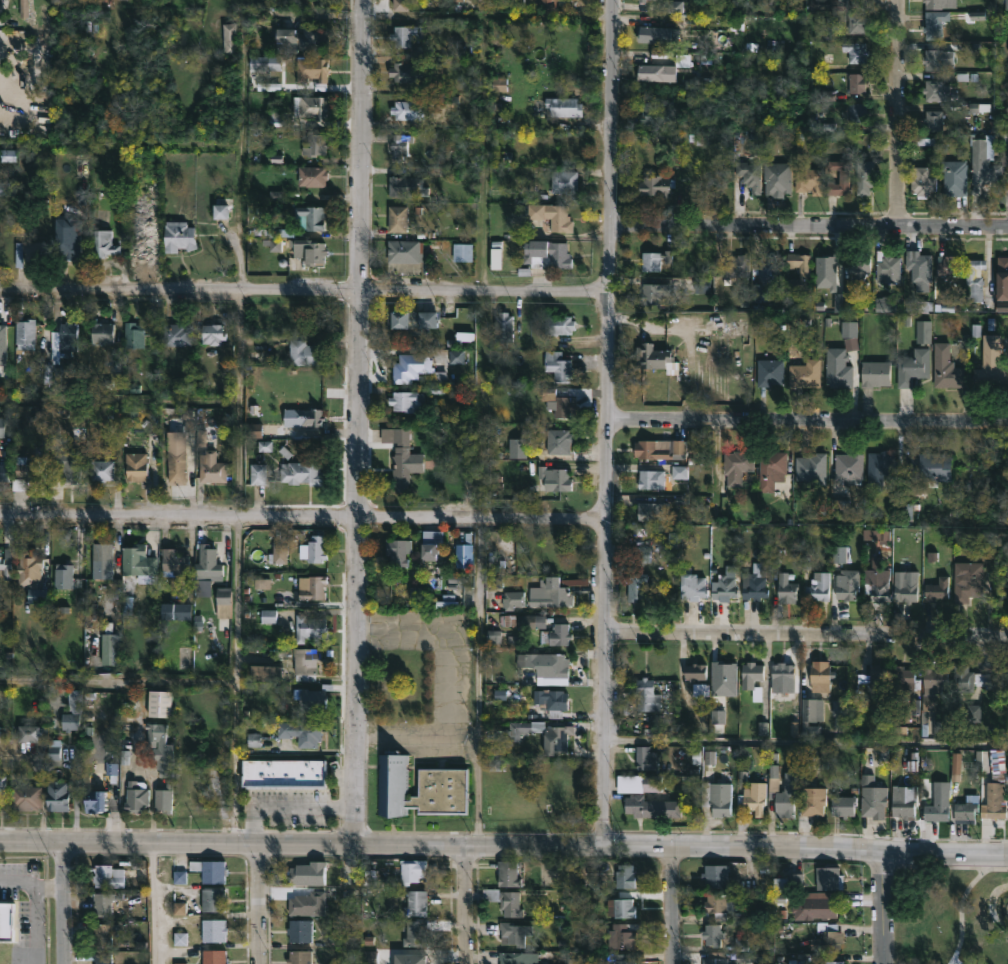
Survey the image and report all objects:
building: (641, 1)
building: (935, 3)
building: (549, 4)
building: (839, 4)
building: (402, 6)
building: (858, 22)
building: (934, 24)
building: (664, 31)
building: (408, 34)
building: (231, 38)
building: (299, 38)
building: (855, 51)
building: (935, 58)
building: (267, 62)
building: (314, 69)
building: (406, 71)
building: (655, 72)
building: (857, 82)
building: (501, 86)
building: (933, 90)
road: (483, 93)
building: (312, 106)
building: (564, 106)
building: (410, 108)
road: (897, 112)
building: (656, 114)
building: (858, 115)
building: (933, 120)
building: (316, 143)
building: (400, 147)
road: (122, 150)
building: (983, 161)
building: (749, 174)
building: (866, 175)
building: (314, 176)
building: (839, 177)
building: (952, 177)
building: (777, 178)
building: (807, 180)
building: (565, 181)
building: (922, 181)
building: (655, 185)
building: (405, 186)
building: (223, 206)
building: (554, 215)
building: (311, 217)
building: (398, 218)
road: (809, 224)
building: (68, 236)
building: (175, 236)
building: (105, 244)
building: (143, 246)
building: (311, 251)
building: (406, 251)
building: (464, 251)
building: (544, 253)
building: (20, 256)
building: (655, 260)
building: (736, 265)
building: (947, 265)
building: (887, 267)
building: (804, 268)
building: (919, 268)
building: (859, 269)
building: (766, 275)
building: (1002, 277)
building: (976, 281)
road: (303, 292)
building: (653, 293)
building: (413, 319)
building: (560, 325)
building: (505, 327)
building: (3, 331)
building: (923, 331)
building: (103, 332)
building: (29, 334)
building: (175, 334)
building: (215, 334)
building: (135, 335)
building: (65, 341)
building: (306, 353)
building: (992, 357)
building: (655, 358)
building: (560, 366)
building: (412, 367)
building: (912, 367)
building: (945, 368)
building: (836, 370)
building: (769, 373)
building: (804, 373)
building: (875, 374)
building: (408, 401)
building: (557, 402)
road: (121, 413)
building: (311, 417)
road: (361, 421)
road: (608, 422)
road: (808, 423)
building: (2, 426)
building: (205, 433)
building: (560, 443)
building: (519, 448)
building: (680, 448)
road: (243, 451)
building: (649, 451)
building: (401, 456)
building: (72, 465)
building: (137, 466)
building: (176, 466)
building: (738, 466)
building: (849, 466)
building: (213, 468)
building: (930, 468)
building: (811, 469)
building: (880, 469)
building: (103, 470)
building: (771, 470)
building: (4, 472)
building: (303, 473)
building: (681, 473)
building: (29, 475)
building: (260, 475)
building: (555, 478)
building: (651, 480)
building: (651, 511)
road: (303, 518)
building: (434, 545)
building: (316, 549)
building: (399, 551)
building: (281, 552)
building: (465, 553)
building: (642, 557)
building: (139, 560)
building: (103, 561)
building: (173, 561)
building: (5, 562)
building: (209, 566)
building: (65, 574)
building: (32, 576)
building: (965, 581)
building: (755, 582)
building: (878, 584)
building: (634, 585)
building: (691, 585)
building: (312, 586)
building: (723, 587)
building: (818, 587)
building: (937, 587)
building: (846, 588)
building: (903, 590)
building: (787, 591)
building: (552, 594)
building: (513, 599)
building: (225, 601)
building: (174, 609)
building: (270, 618)
building: (533, 621)
building: (311, 626)
building: (558, 635)
road: (807, 635)
building: (111, 650)
building: (183, 657)
building: (307, 662)
building: (548, 665)
building: (268, 671)
building: (694, 671)
building: (783, 672)
building: (820, 675)
building: (968, 677)
building: (752, 678)
building: (934, 678)
road: (480, 682)
building: (902, 682)
building: (871, 683)
road: (121, 687)
building: (646, 694)
building: (316, 697)
building: (553, 701)
building: (162, 705)
building: (809, 708)
building: (928, 709)
building: (74, 712)
building: (518, 730)
building: (303, 731)
building: (36, 732)
building: (157, 733)
building: (1, 734)
building: (559, 740)
road: (803, 742)
building: (644, 757)
building: (167, 761)
building: (286, 775)
building: (652, 783)
building: (3, 785)
building: (418, 786)
building: (102, 791)
building: (780, 794)
building: (995, 794)
building: (59, 796)
building: (749, 796)
building: (27, 797)
building: (717, 797)
building: (872, 797)
building: (138, 799)
building: (165, 800)
building: (904, 800)
building: (812, 801)
building: (842, 804)
road: (296, 805)
building: (650, 806)
building: (187, 807)
building: (937, 808)
building: (965, 809)
road: (503, 844)
road: (943, 865)
building: (212, 870)
building: (411, 870)
building: (308, 872)
building: (508, 873)
building: (107, 875)
building: (715, 875)
building: (619, 876)
building: (828, 878)
road: (31, 884)
building: (213, 899)
building: (504, 900)
road: (63, 901)
road: (150, 902)
road: (255, 902)
building: (102, 903)
building: (307, 903)
road: (359, 903)
building: (416, 903)
road: (465, 903)
road: (671, 904)
building: (719, 905)
road: (880, 906)
building: (620, 907)
building: (820, 907)
road: (958, 910)
park: (955, 916)
road: (34, 924)
building: (299, 929)
building: (212, 930)
building: (104, 933)
building: (414, 933)
building: (514, 933)
building: (711, 934)
building: (622, 935)
building: (827, 941)
building: (213, 956)
building: (299, 957)
building: (517, 957)
building: (102, 958)
building: (407, 958)
building: (620, 959)
building: (715, 960)
building: (832, 962)

